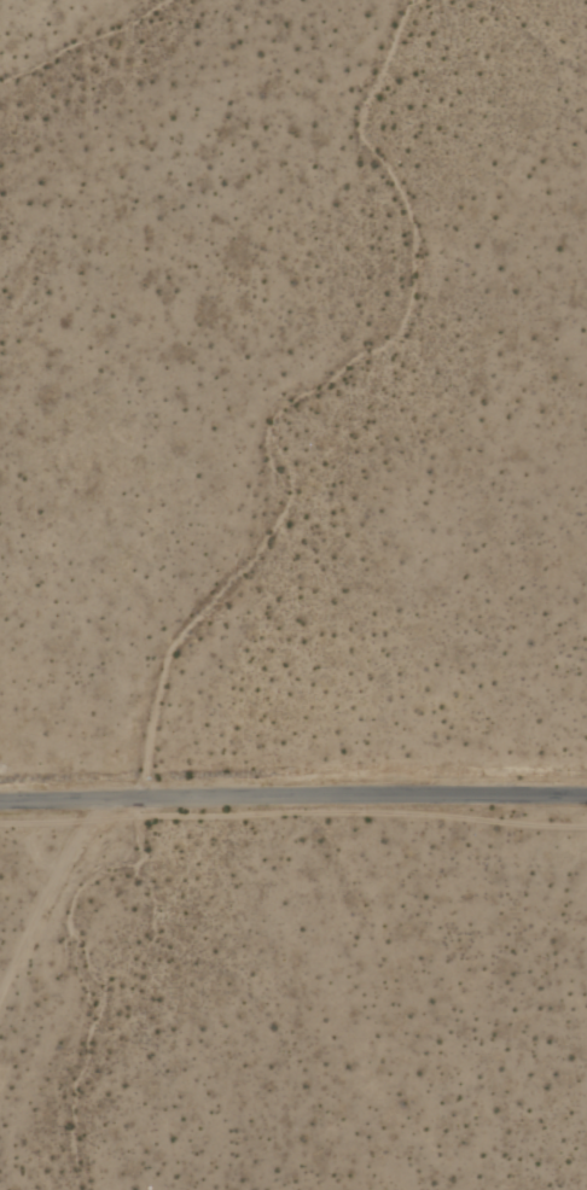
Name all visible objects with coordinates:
road: (292, 793)

